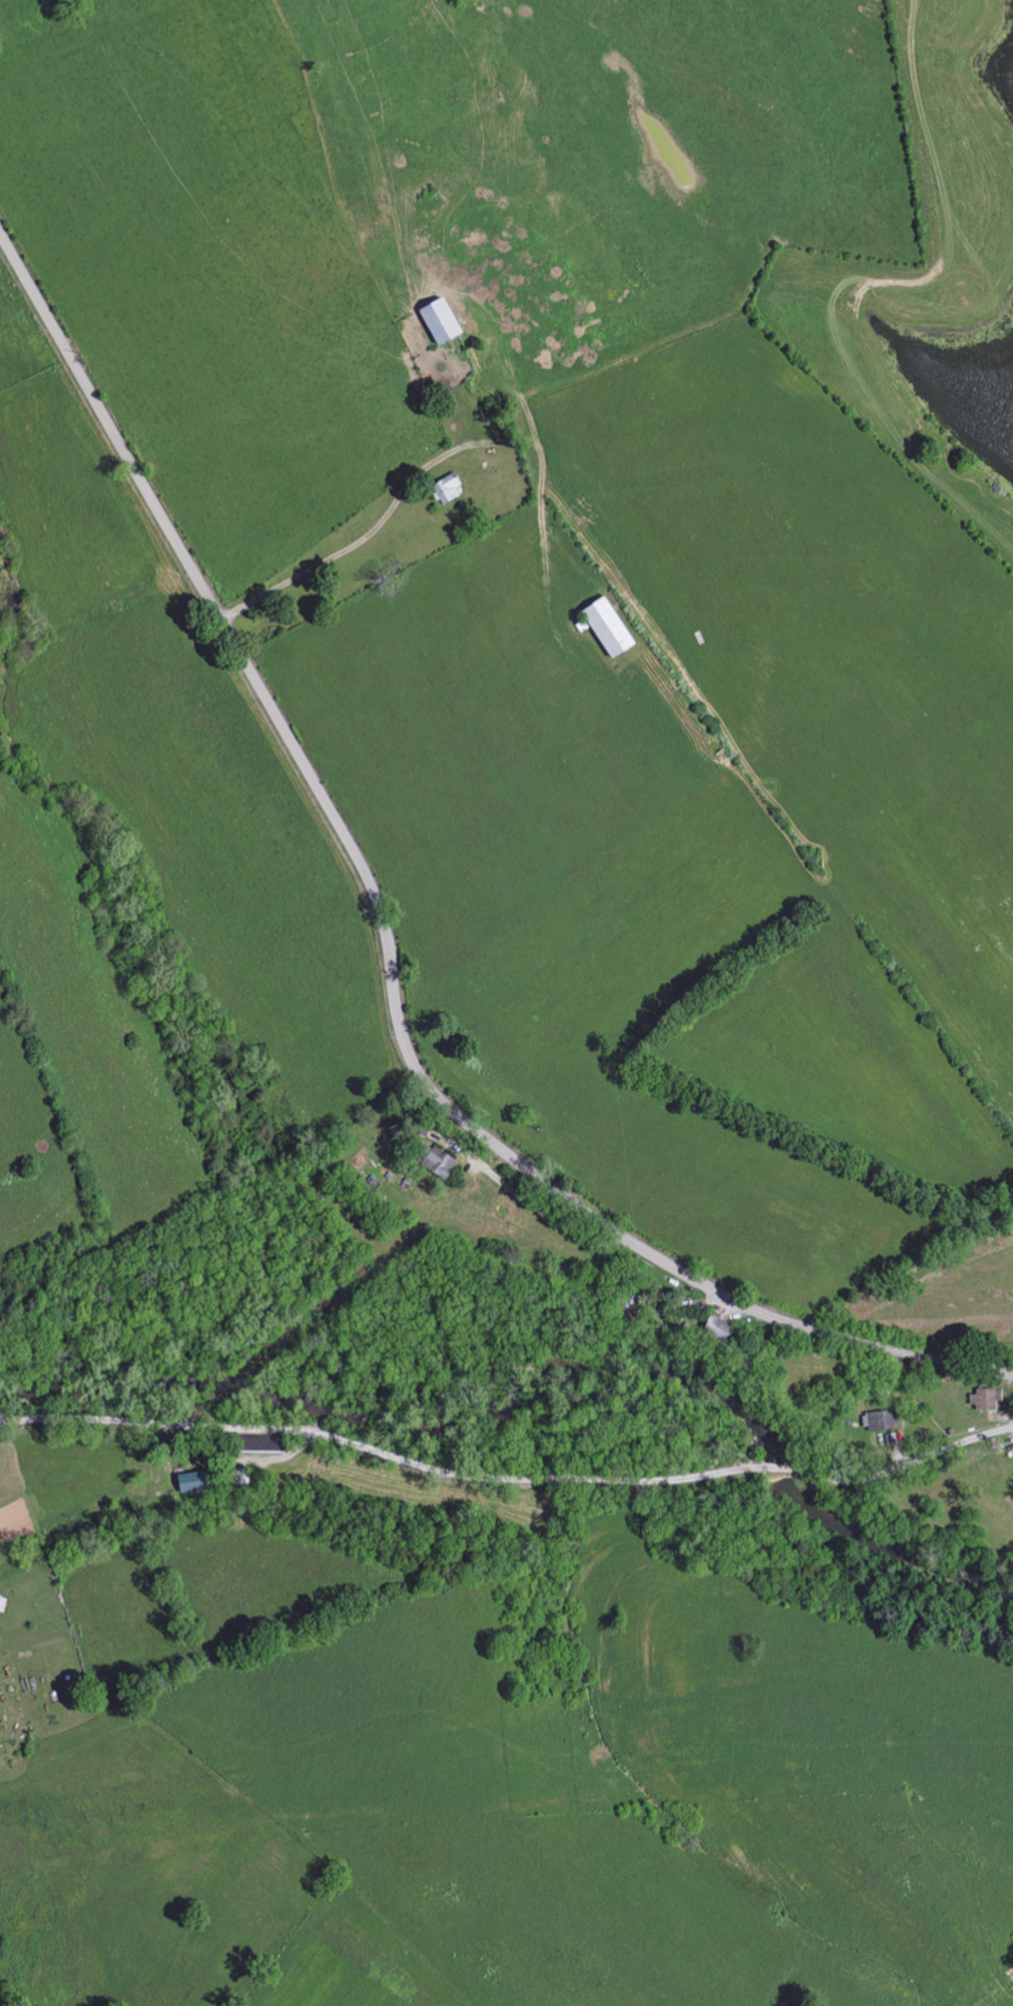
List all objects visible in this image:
building: (435, 320)
road: (413, 447)
building: (603, 627)
road: (387, 946)
building: (431, 1160)
building: (1012, 1211)
building: (714, 1328)
building: (983, 1400)
building: (877, 1422)
road: (379, 1446)
road: (770, 1467)
road: (900, 1467)
building: (187, 1483)
building: (2, 1604)

